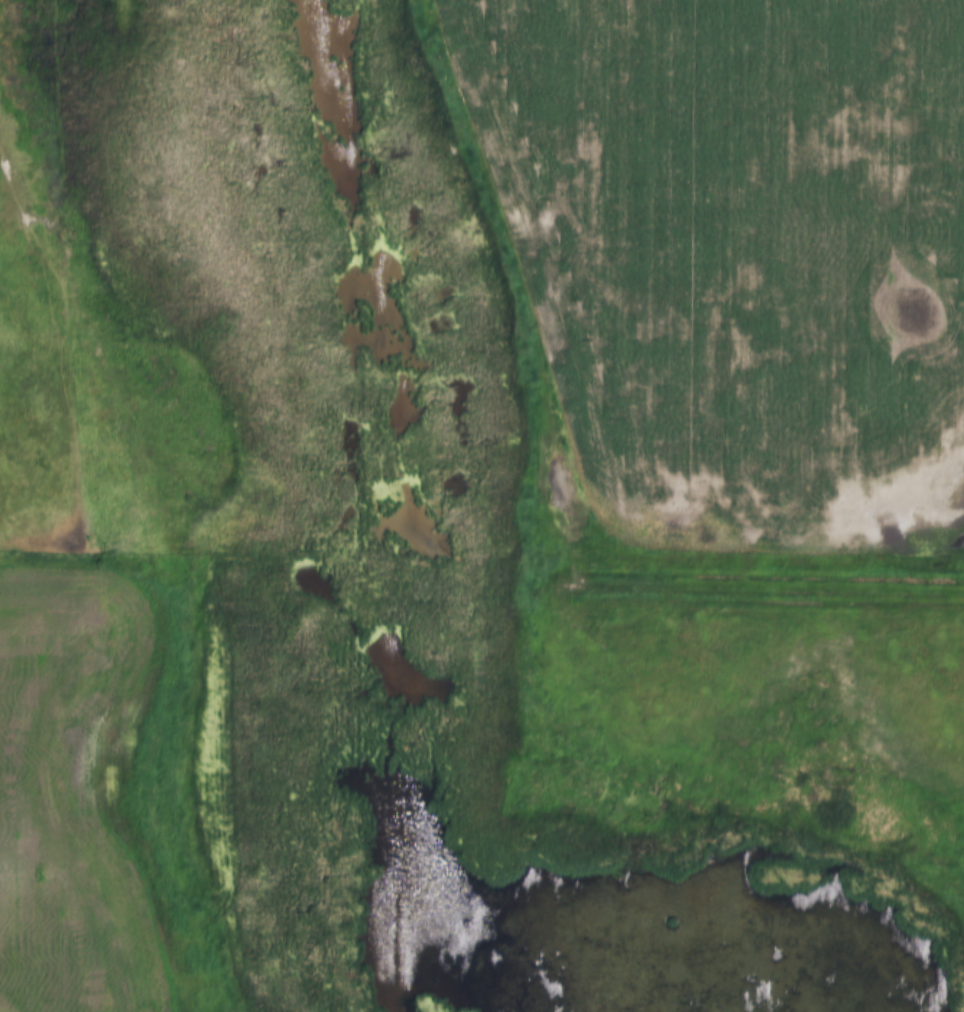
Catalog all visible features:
road: (767, 563)

